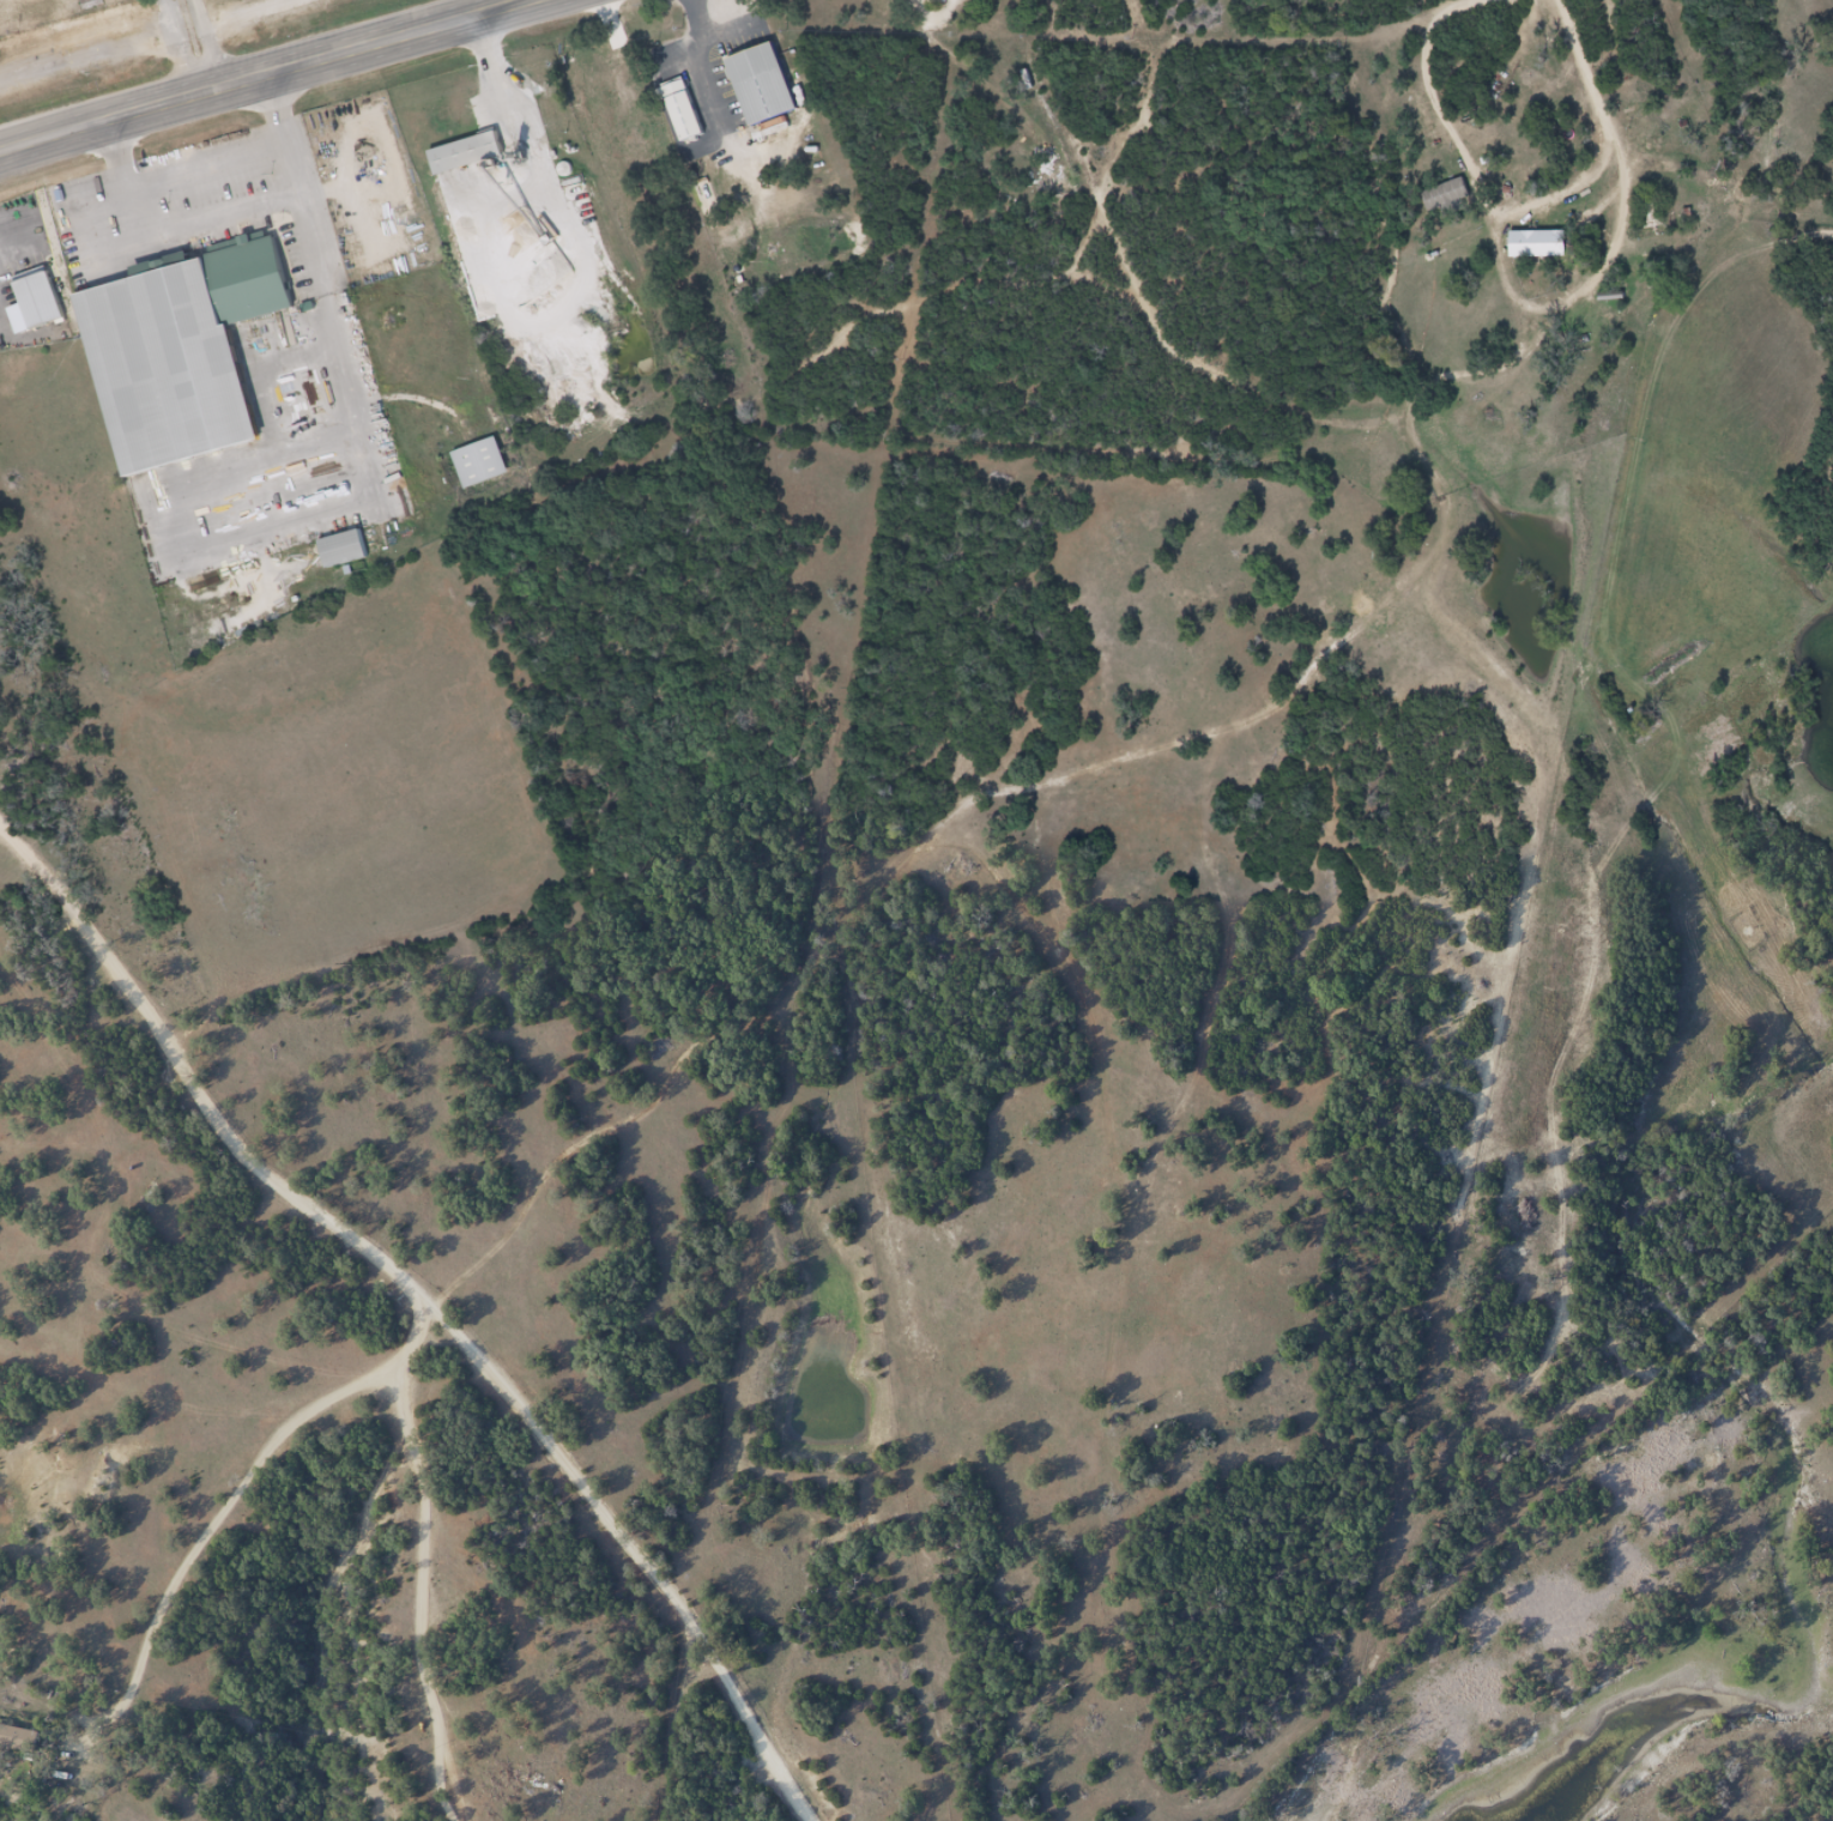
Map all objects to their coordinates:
building: (976, 2)
road: (206, 47)
road: (179, 50)
road: (277, 78)
building: (769, 93)
building: (689, 117)
building: (474, 163)
building: (1456, 202)
building: (1538, 237)
building: (1545, 252)
building: (43, 301)
building: (174, 352)
road: (1366, 415)
building: (490, 472)
building: (352, 557)
road: (432, 1295)
building: (20, 1737)

